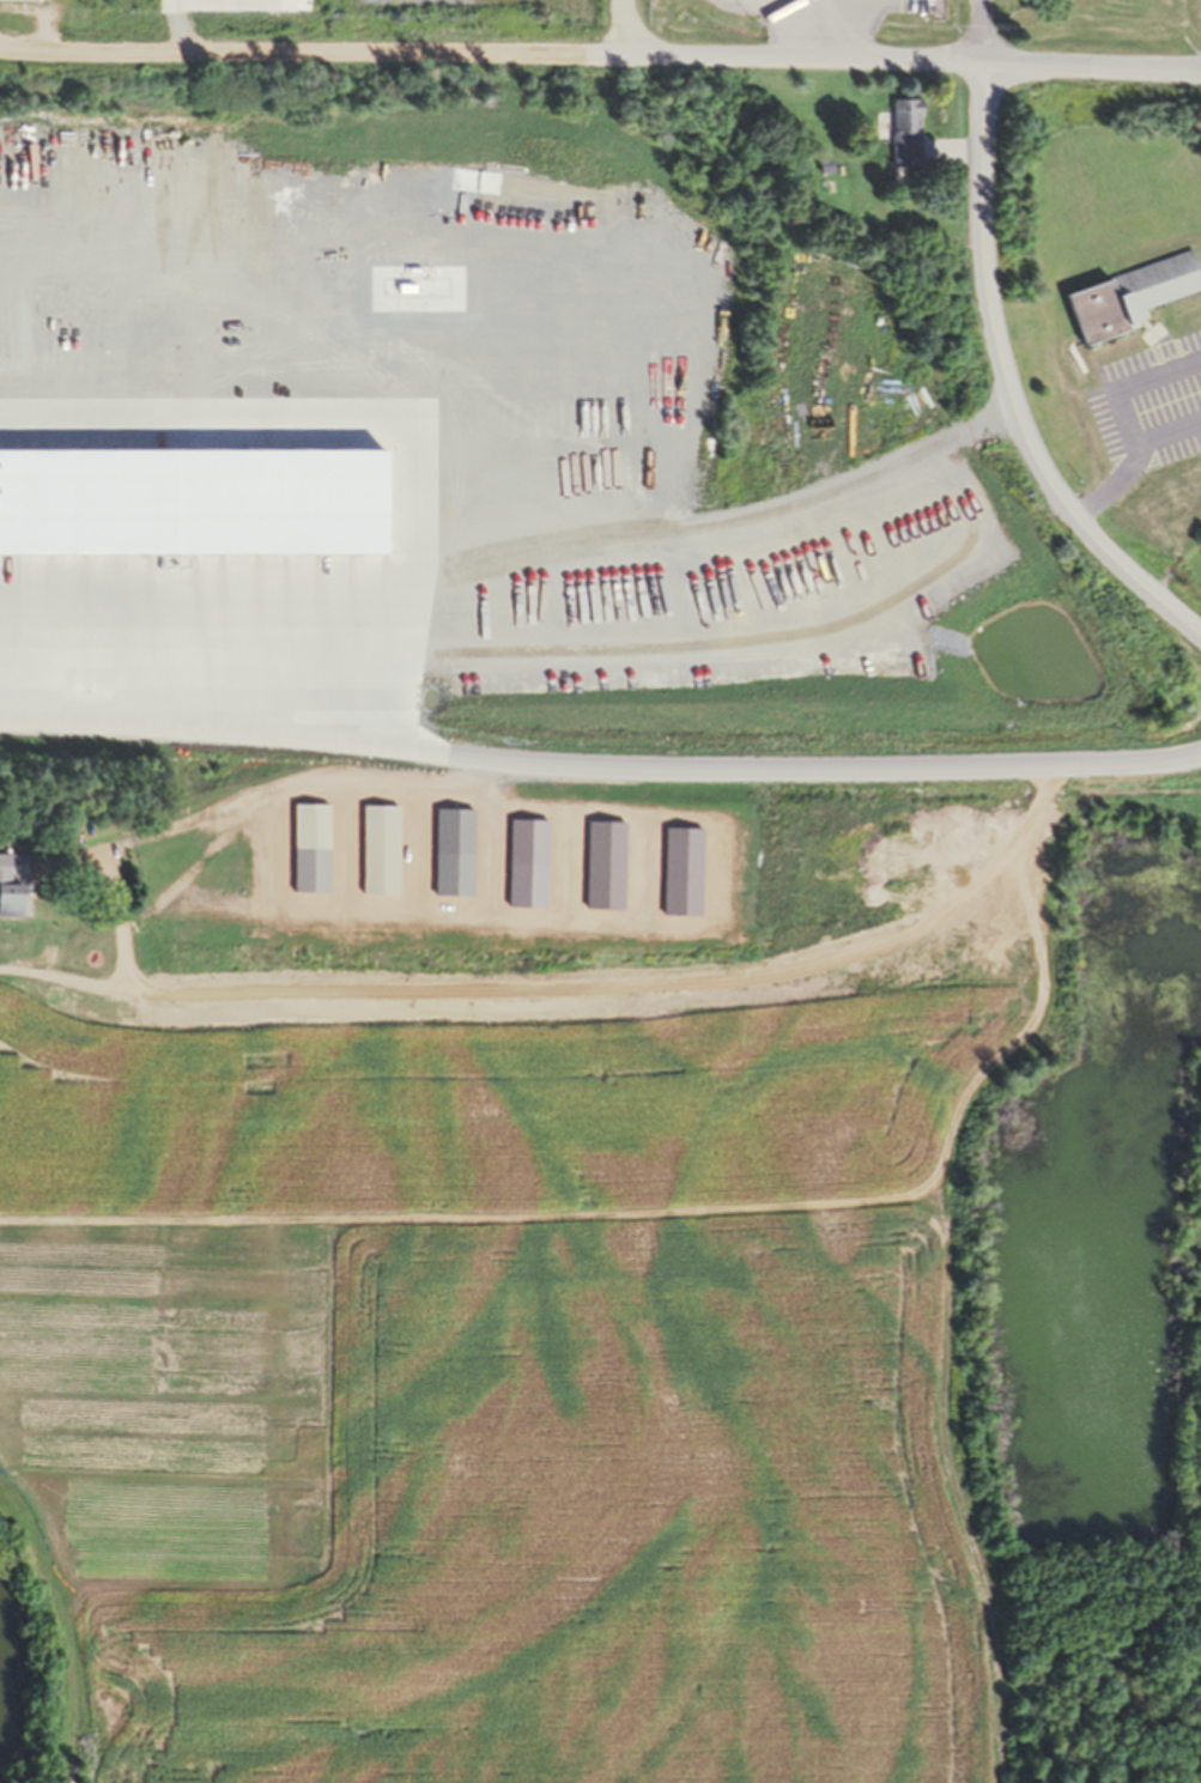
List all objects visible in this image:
road: (600, 54)
building: (904, 132)
building: (1127, 295)
road: (1001, 384)
quarry: (504, 439)
building: (582, 590)
building: (903, 643)
road: (1117, 762)
road: (509, 766)
building: (309, 848)
building: (378, 849)
building: (451, 851)
building: (523, 884)
building: (10, 899)
crop: (498, 1363)
park: (1092, 1679)

